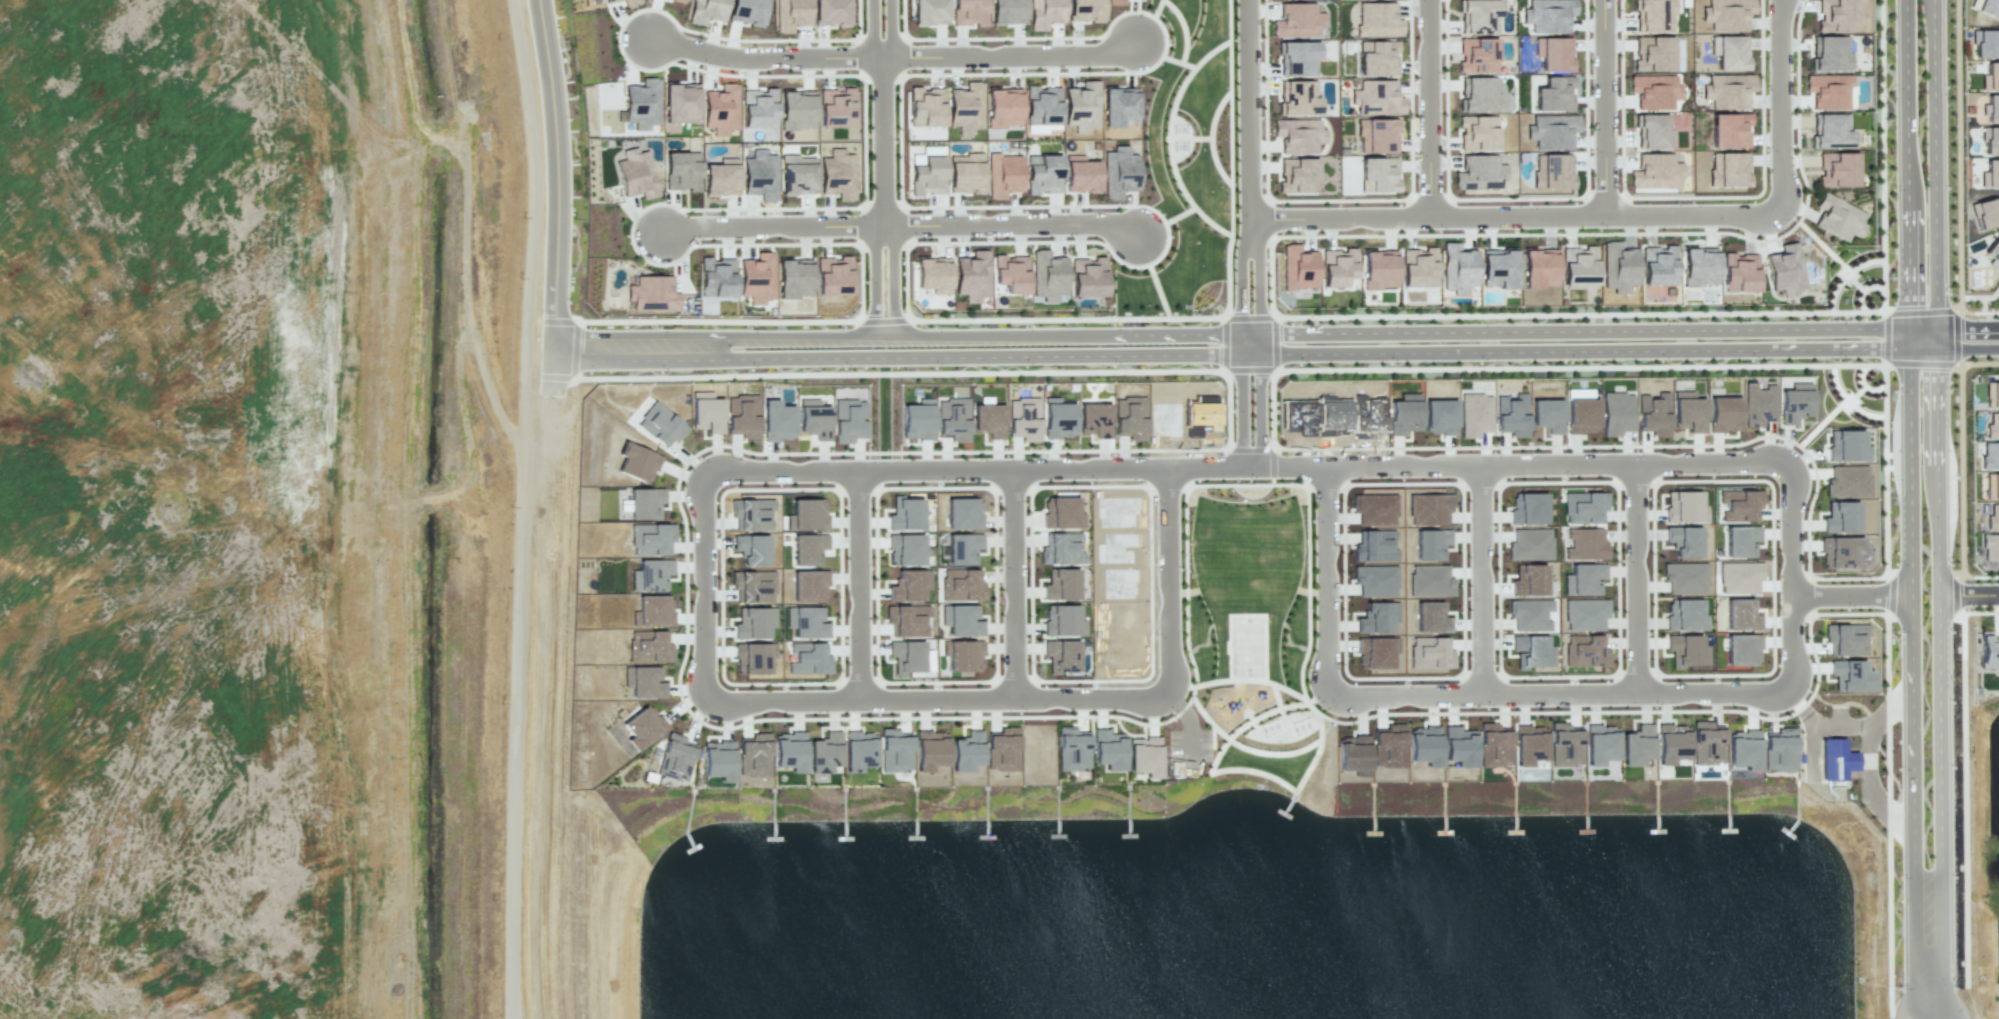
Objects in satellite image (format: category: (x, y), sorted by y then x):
building: (595, 0)
building: (609, 1)
building: (680, 1)
building: (630, 2)
building: (1115, 2)
building: (1008, 4)
building: (1988, 7)
building: (1086, 10)
building: (706, 11)
building: (746, 11)
building: (929, 12)
building: (969, 12)
building: (832, 13)
building: (1046, 13)
building: (791, 14)
building: (1726, 14)
building: (1478, 15)
building: (1547, 15)
building: (1654, 15)
building: (1836, 15)
building: (1297, 20)
building: (1378, 20)
road: (891, 29)
road: (871, 30)
building: (1984, 44)
building: (1729, 52)
building: (1829, 53)
road: (1010, 54)
building: (1553, 54)
building: (1653, 54)
building: (1477, 55)
road: (763, 57)
building: (1377, 57)
building: (1298, 58)
building: (1991, 76)
building: (1727, 90)
building: (1829, 90)
building: (1654, 91)
building: (1554, 93)
building: (1479, 94)
building: (1298, 97)
building: (1377, 97)
building: (681, 102)
building: (641, 105)
building: (1042, 106)
road: (1779, 106)
building: (836, 107)
building: (926, 107)
building: (1082, 107)
building: (759, 108)
building: (966, 108)
building: (1004, 108)
building: (1119, 108)
building: (797, 109)
road: (1419, 109)
road: (1603, 109)
building: (1992, 109)
building: (721, 110)
road: (1250, 117)
building: (1729, 130)
building: (1830, 130)
building: (1552, 131)
building: (1653, 131)
building: (1477, 133)
building: (1298, 135)
building: (1376, 135)
road: (883, 140)
building: (1990, 141)
park: (1185, 169)
building: (1727, 169)
building: (1837, 169)
building: (1120, 170)
building: (682, 171)
building: (1479, 172)
building: (1552, 172)
building: (966, 173)
building: (1656, 173)
building: (636, 174)
building: (760, 174)
building: (798, 174)
building: (839, 174)
building: (1043, 174)
building: (1081, 174)
building: (1378, 174)
building: (1990, 174)
building: (1003, 175)
building: (1298, 175)
building: (928, 176)
road: (1958, 176)
building: (721, 177)
road: (561, 195)
road: (782, 207)
building: (1986, 213)
road: (1514, 219)
building: (1837, 219)
road: (1012, 224)
road: (773, 225)
road: (459, 246)
building: (1993, 253)
road: (1840, 263)
building: (1659, 265)
building: (1417, 266)
building: (1579, 266)
road: (1866, 266)
building: (1337, 267)
building: (1618, 267)
building: (1298, 268)
building: (1539, 268)
building: (1380, 269)
building: (1458, 269)
building: (1499, 269)
building: (1699, 269)
building: (1785, 270)
building: (1738, 272)
building: (1011, 273)
building: (933, 274)
building: (1048, 275)
building: (833, 276)
building: (717, 277)
road: (873, 277)
building: (972, 277)
building: (1087, 277)
building: (757, 278)
road: (893, 278)
building: (793, 281)
road: (1872, 289)
road: (1838, 291)
building: (654, 294)
road: (1258, 294)
road: (1935, 296)
road: (1313, 313)
road: (1273, 335)
road: (1238, 348)
road: (1967, 348)
road: (1243, 356)
road: (1862, 386)
road: (1855, 393)
building: (1992, 395)
road: (1848, 401)
building: (1758, 404)
building: (1793, 405)
building: (1291, 409)
road: (1260, 410)
building: (1475, 411)
building: (1688, 411)
building: (707, 412)
building: (1581, 413)
building: (1616, 413)
building: (1511, 414)
building: (1653, 414)
building: (1723, 414)
building: (1547, 415)
building: (743, 416)
building: (1333, 416)
building: (1367, 416)
building: (1404, 416)
building: (1440, 416)
building: (1200, 417)
building: (1058, 418)
building: (1130, 418)
building: (813, 419)
building: (917, 419)
building: (953, 419)
building: (989, 419)
building: (1024, 419)
building: (1095, 419)
building: (849, 420)
building: (778, 421)
road: (1822, 423)
building: (660, 424)
building: (1992, 428)
building: (1846, 445)
building: (1989, 456)
road: (1525, 462)
building: (638, 464)
road: (982, 469)
road: (1960, 469)
road: (1904, 478)
building: (1847, 482)
building: (1992, 485)
road: (1616, 489)
road: (1771, 489)
road: (1461, 491)
building: (644, 502)
building: (1738, 505)
building: (1583, 506)
building: (1684, 506)
building: (1428, 508)
building: (1527, 508)
building: (1374, 509)
building: (1055, 512)
building: (906, 513)
building: (751, 514)
building: (964, 514)
building: (807, 516)
building: (1840, 518)
building: (1993, 519)
crop: (252, 523)
building: (651, 538)
building: (1740, 540)
building: (1429, 543)
building: (1529, 544)
building: (1585, 544)
building: (1687, 544)
building: (1373, 545)
building: (1990, 546)
building: (808, 548)
building: (963, 548)
building: (752, 549)
building: (906, 549)
building: (1061, 549)
building: (1839, 552)
road: (1885, 574)
building: (651, 575)
building: (1739, 576)
road: (1790, 577)
building: (1685, 578)
building: (1583, 579)
road: (1635, 579)
building: (1375, 580)
road: (1484, 580)
building: (1528, 580)
building: (1429, 581)
road: (1170, 582)
road: (1323, 582)
building: (1061, 584)
building: (909, 585)
building: (961, 585)
road: (1010, 585)
building: (753, 586)
building: (809, 586)
road: (857, 587)
road: (703, 590)
road: (1849, 593)
road: (1969, 593)
building: (653, 611)
building: (1529, 614)
building: (1584, 614)
building: (1684, 614)
building: (1740, 614)
building: (1377, 616)
building: (1431, 617)
building: (907, 620)
building: (961, 620)
building: (1061, 620)
park: (1250, 620)
building: (806, 622)
building: (748, 625)
building: (1845, 640)
park: (1246, 645)
building: (649, 647)
building: (1685, 649)
building: (1741, 649)
building: (1531, 651)
building: (1585, 651)
building: (1375, 652)
building: (1988, 652)
building: (962, 653)
building: (1429, 653)
building: (1062, 655)
building: (907, 656)
building: (753, 657)
building: (808, 659)
building: (1850, 675)
road: (1253, 681)
building: (644, 682)
road: (1276, 696)
road: (1556, 697)
road: (936, 701)
road: (978, 717)
building: (643, 727)
road: (1239, 727)
building: (1706, 742)
building: (1565, 744)
building: (1600, 744)
building: (1670, 744)
building: (1389, 745)
building: (1424, 745)
building: (1494, 745)
building: (1529, 745)
building: (1637, 745)
building: (1459, 746)
building: (1073, 748)
building: (1109, 749)
building: (1744, 749)
building: (859, 750)
building: (895, 750)
building: (930, 750)
building: (1779, 750)
building: (790, 751)
building: (967, 751)
building: (826, 753)
building: (1002, 753)
road: (1287, 753)
building: (754, 755)
building: (1353, 755)
building: (675, 756)
building: (1145, 756)
building: (718, 759)
building: (1835, 759)
road: (1940, 773)
road: (1265, 774)
road: (1964, 782)
road: (1925, 986)

